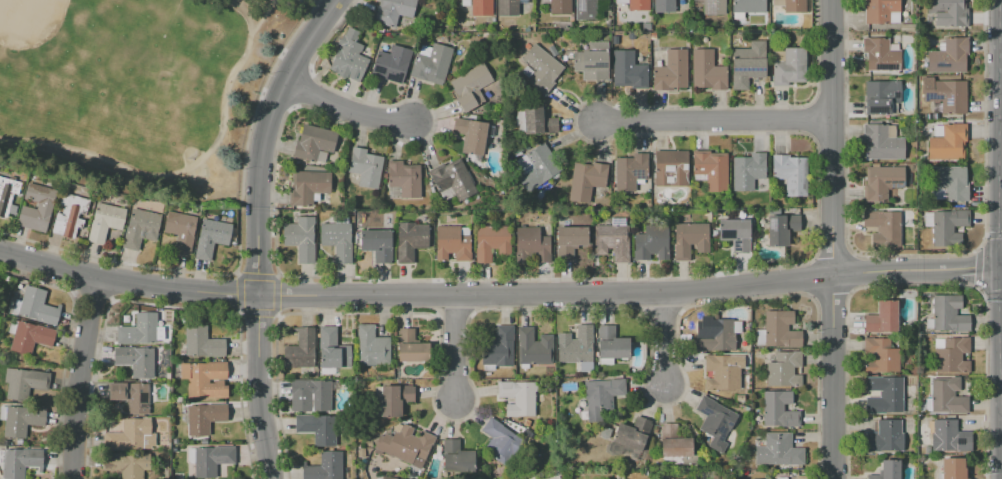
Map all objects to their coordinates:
building: (465, 3)
road: (327, 4)
building: (635, 4)
building: (664, 6)
building: (748, 6)
road: (244, 7)
building: (560, 7)
building: (714, 7)
building: (794, 7)
building: (482, 8)
building: (507, 8)
building: (585, 10)
building: (393, 11)
building: (881, 11)
building: (948, 12)
park: (28, 22)
building: (906, 28)
building: (880, 55)
building: (350, 56)
building: (948, 56)
road: (294, 61)
building: (593, 61)
building: (431, 62)
building: (391, 63)
building: (748, 64)
building: (789, 66)
building: (541, 69)
building: (627, 70)
building: (671, 70)
building: (706, 70)
building: (527, 72)
building: (470, 86)
road: (300, 88)
park: (140, 90)
building: (944, 94)
building: (882, 97)
road: (276, 100)
road: (826, 103)
road: (346, 107)
road: (985, 117)
road: (712, 119)
road: (809, 119)
road: (845, 119)
building: (536, 120)
building: (472, 135)
road: (827, 136)
road: (265, 138)
building: (882, 142)
building: (948, 143)
building: (314, 144)
road: (205, 155)
building: (535, 167)
building: (671, 168)
building: (363, 169)
building: (712, 169)
building: (630, 171)
building: (748, 171)
building: (791, 174)
building: (404, 179)
building: (452, 180)
building: (586, 180)
building: (881, 183)
building: (947, 183)
building: (307, 187)
building: (7, 194)
building: (44, 207)
building: (69, 215)
building: (105, 222)
building: (947, 225)
building: (883, 227)
building: (139, 228)
building: (781, 228)
building: (180, 231)
building: (735, 234)
road: (994, 234)
building: (211, 237)
building: (301, 238)
building: (613, 239)
road: (830, 239)
building: (337, 240)
building: (410, 240)
building: (570, 240)
building: (690, 240)
building: (492, 242)
building: (652, 242)
building: (453, 243)
building: (377, 244)
road: (238, 246)
building: (532, 246)
road: (832, 255)
road: (915, 255)
road: (977, 268)
road: (851, 272)
road: (811, 277)
road: (628, 279)
road: (127, 281)
road: (915, 284)
road: (830, 293)
road: (992, 293)
road: (630, 294)
road: (679, 294)
road: (633, 295)
road: (469, 296)
road: (434, 297)
building: (35, 306)
road: (539, 308)
road: (656, 311)
road: (451, 315)
building: (947, 315)
building: (882, 318)
building: (140, 330)
building: (778, 331)
building: (719, 335)
building: (29, 336)
road: (660, 337)
building: (202, 342)
building: (576, 345)
building: (610, 345)
building: (410, 346)
building: (371, 347)
road: (453, 347)
building: (498, 348)
building: (534, 348)
building: (332, 349)
building: (301, 350)
building: (951, 354)
building: (880, 355)
building: (136, 360)
building: (784, 369)
building: (722, 373)
building: (168, 376)
road: (78, 377)
building: (205, 379)
building: (24, 383)
building: (564, 385)
road: (259, 387)
building: (310, 395)
building: (884, 395)
building: (130, 396)
building: (947, 396)
building: (519, 398)
building: (601, 398)
building: (179, 399)
building: (395, 399)
building: (778, 410)
building: (204, 417)
building: (21, 419)
building: (715, 422)
building: (526, 423)
building: (318, 428)
building: (605, 432)
building: (632, 433)
building: (129, 434)
building: (884, 437)
building: (948, 437)
building: (162, 438)
building: (499, 441)
building: (674, 442)
building: (367, 443)
building: (406, 446)
building: (779, 451)
building: (361, 452)
building: (457, 457)
building: (212, 460)
building: (19, 462)
building: (128, 463)
building: (324, 467)
building: (953, 469)
building: (887, 470)
building: (178, 476)

